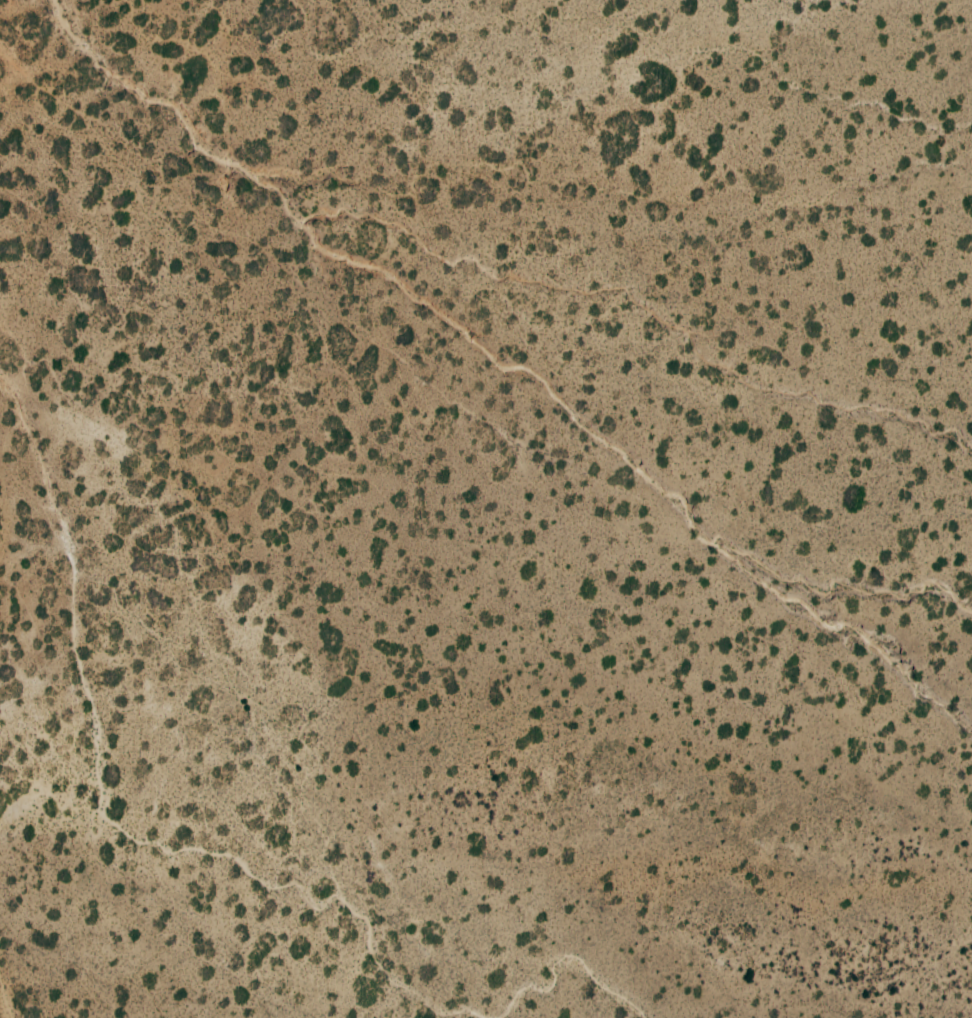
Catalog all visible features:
road: (2, 986)
road: (8, 1006)

